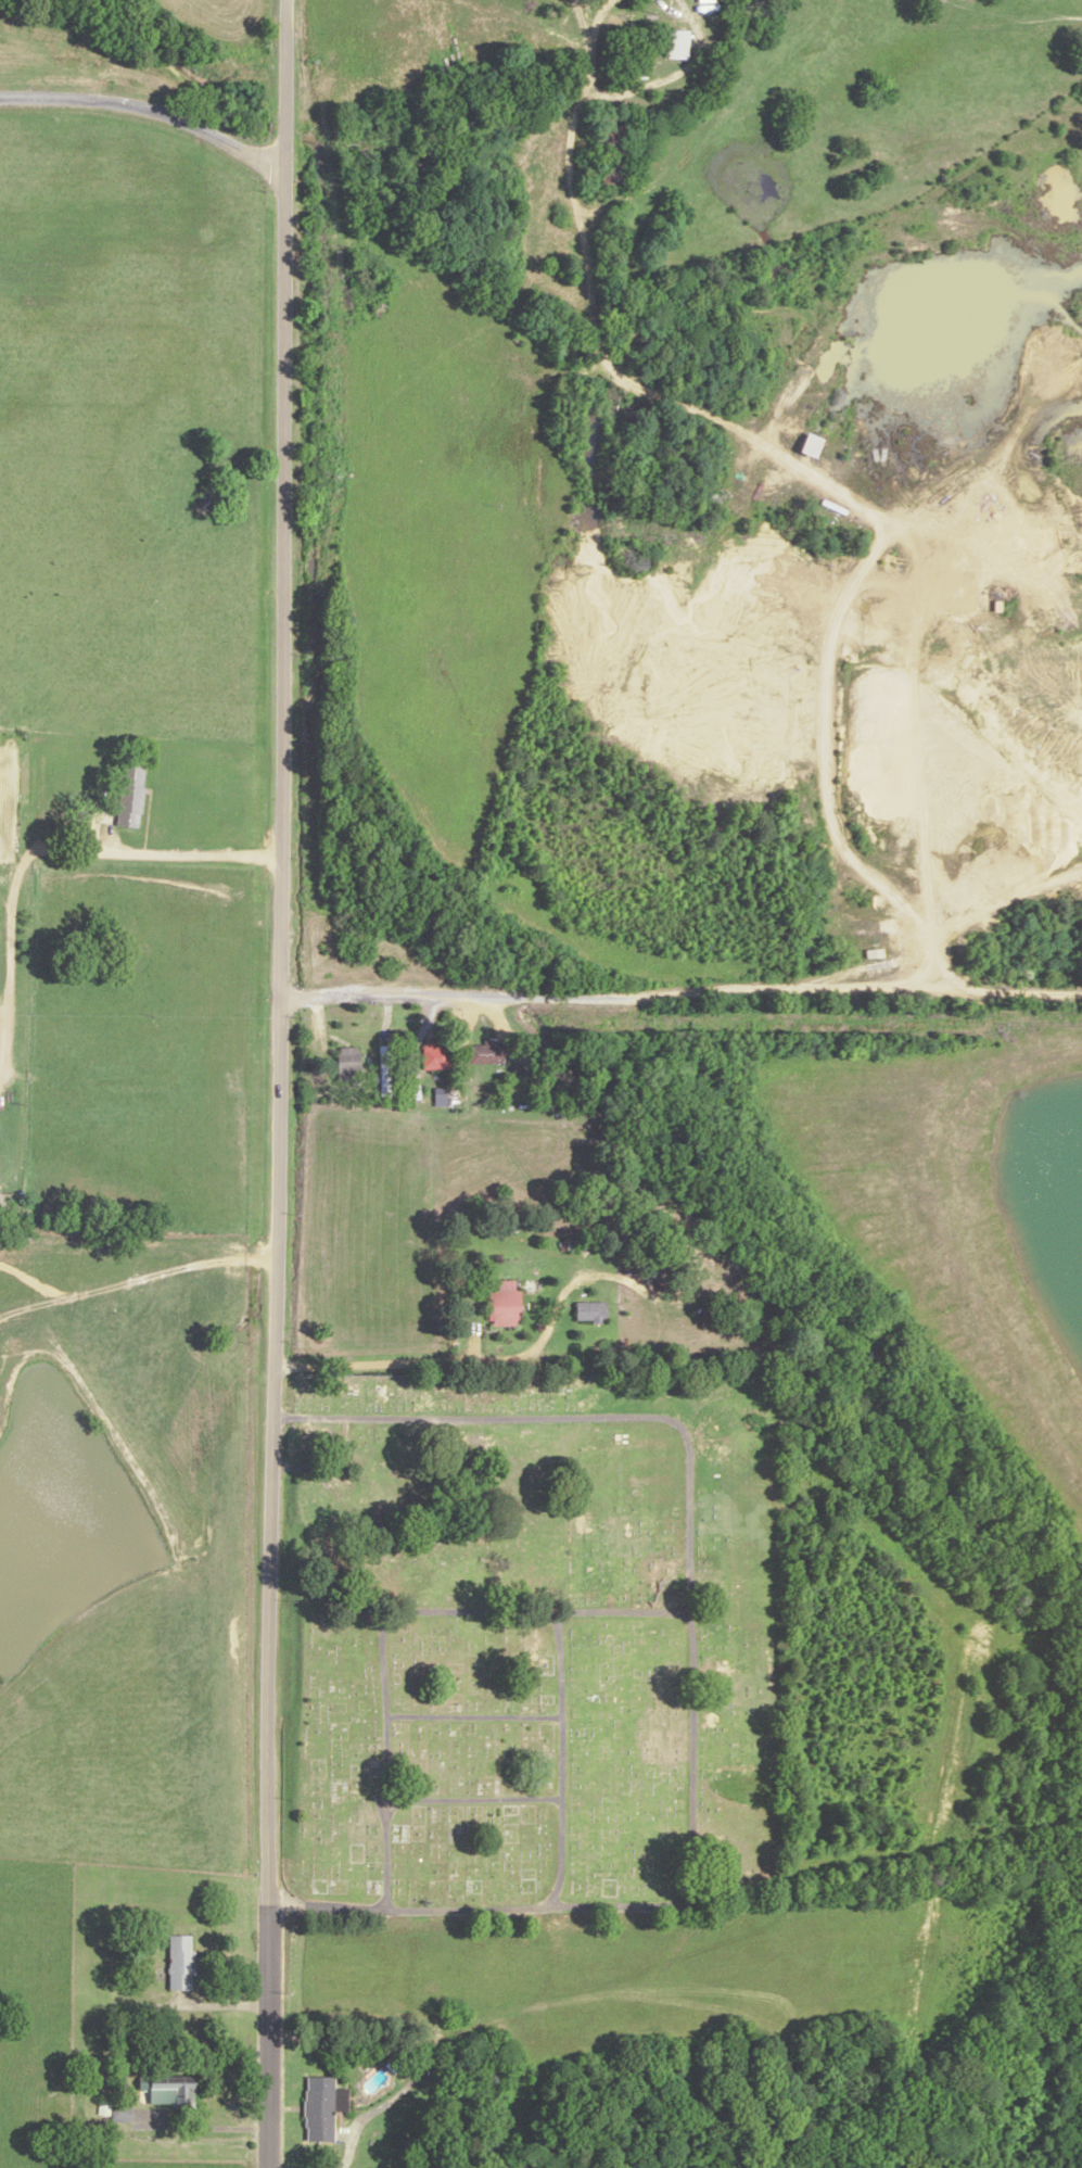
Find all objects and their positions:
building: (679, 45)
road: (282, 87)
road: (144, 117)
building: (612, 145)
building: (814, 444)
building: (131, 795)
building: (876, 953)
road: (674, 994)
road: (267, 1037)
building: (487, 1053)
building: (436, 1055)
building: (351, 1063)
building: (385, 1070)
building: (506, 1305)
building: (593, 1310)
road: (455, 1359)
building: (182, 1963)
road: (266, 2034)
building: (62, 2082)
building: (168, 2088)
building: (323, 2106)
building: (117, 2110)
road: (354, 2126)

